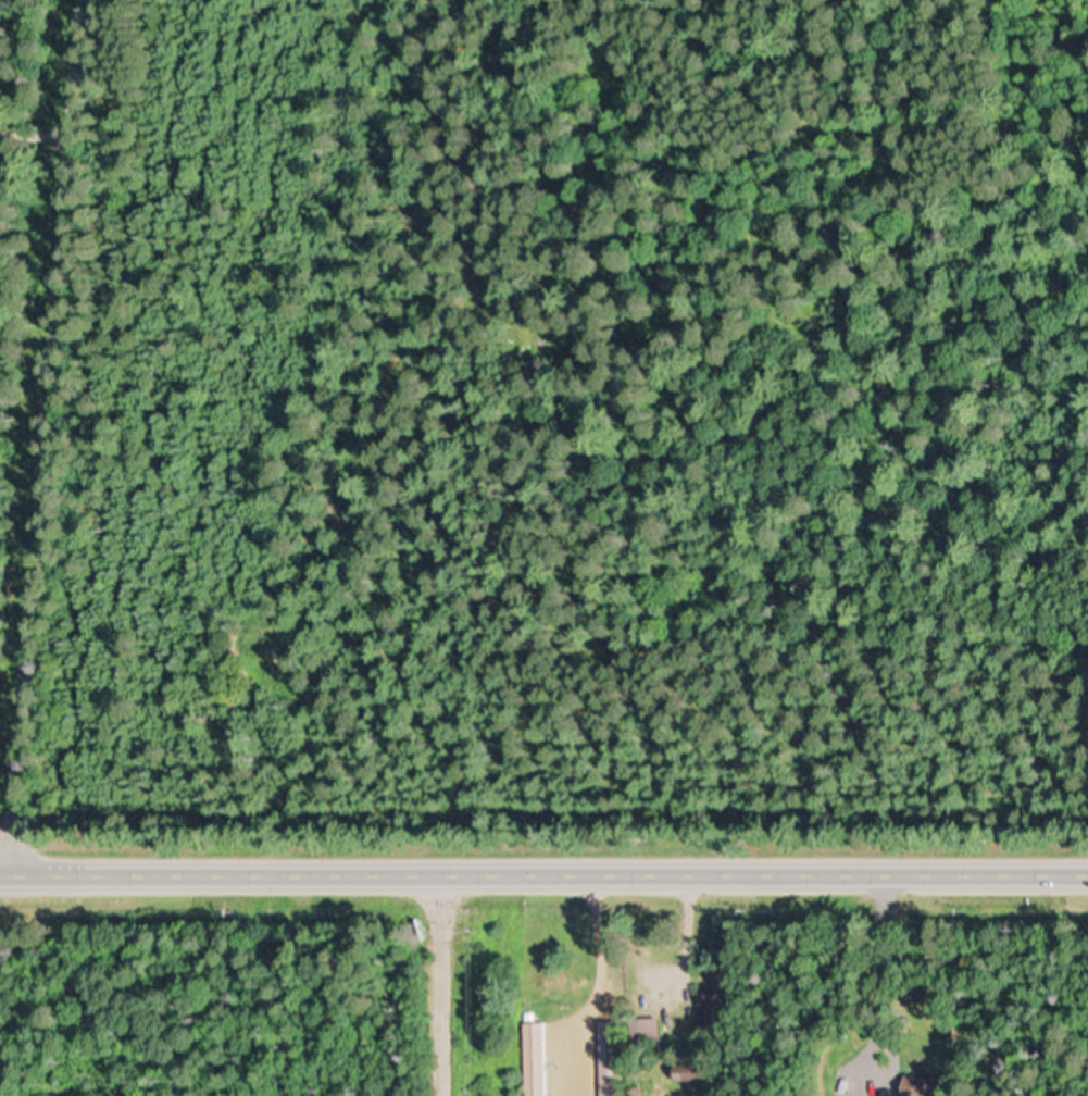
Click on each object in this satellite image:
road: (51, 434)
road: (407, 867)
road: (950, 869)
building: (722, 1013)
building: (649, 1032)
building: (538, 1058)
building: (612, 1058)
building: (697, 1076)
building: (923, 1084)

